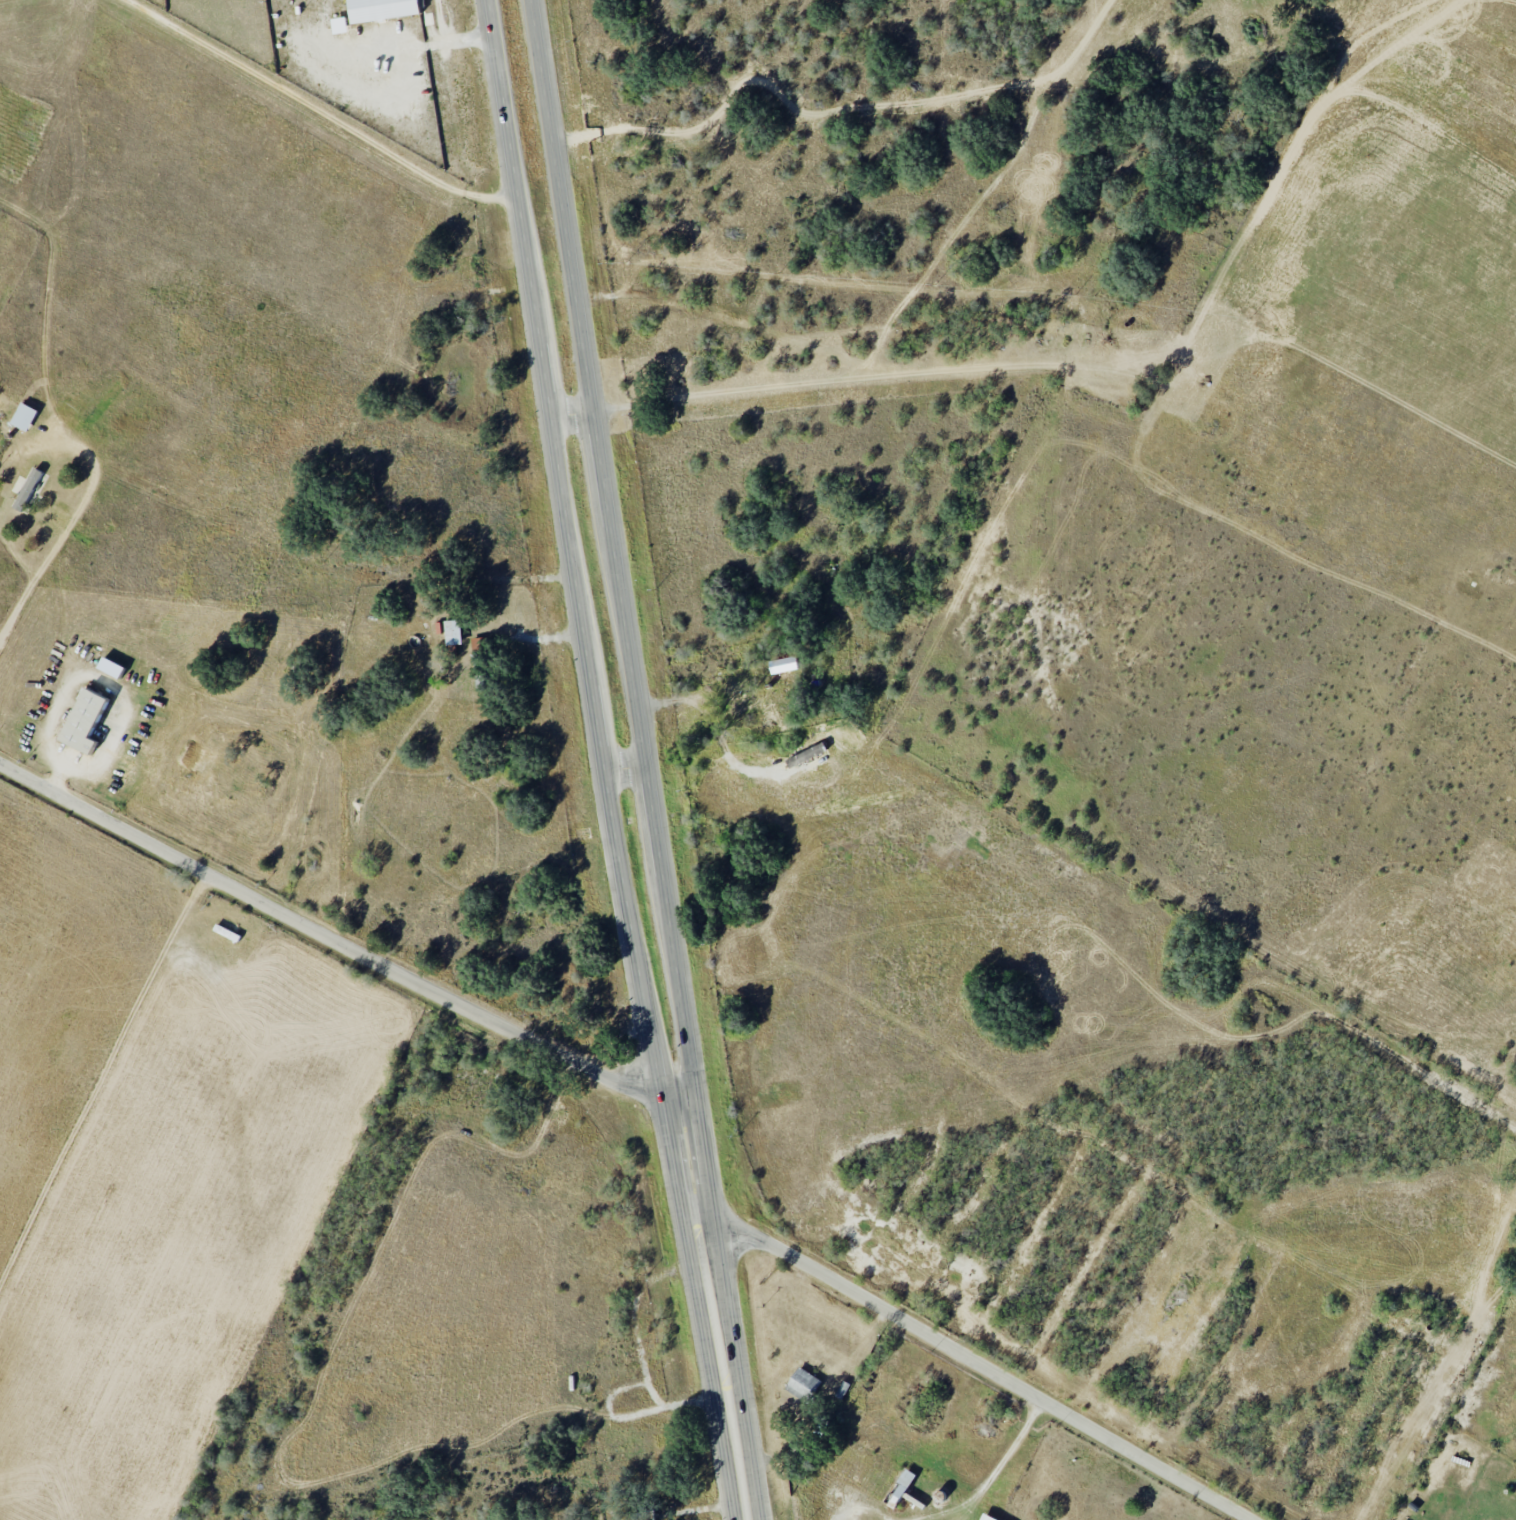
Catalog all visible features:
building: (381, 9)
building: (339, 25)
road: (321, 110)
road: (47, 298)
building: (24, 416)
road: (573, 416)
building: (30, 487)
road: (77, 511)
road: (614, 553)
road: (573, 557)
building: (452, 632)
building: (783, 664)
road: (99, 676)
building: (83, 721)
road: (626, 771)
road: (338, 941)
road: (720, 1313)
road: (982, 1365)
building: (803, 1384)
road: (1001, 1460)
building: (903, 1484)
road: (868, 1506)
road: (942, 1509)
road: (646, 1513)
building: (986, 1517)

